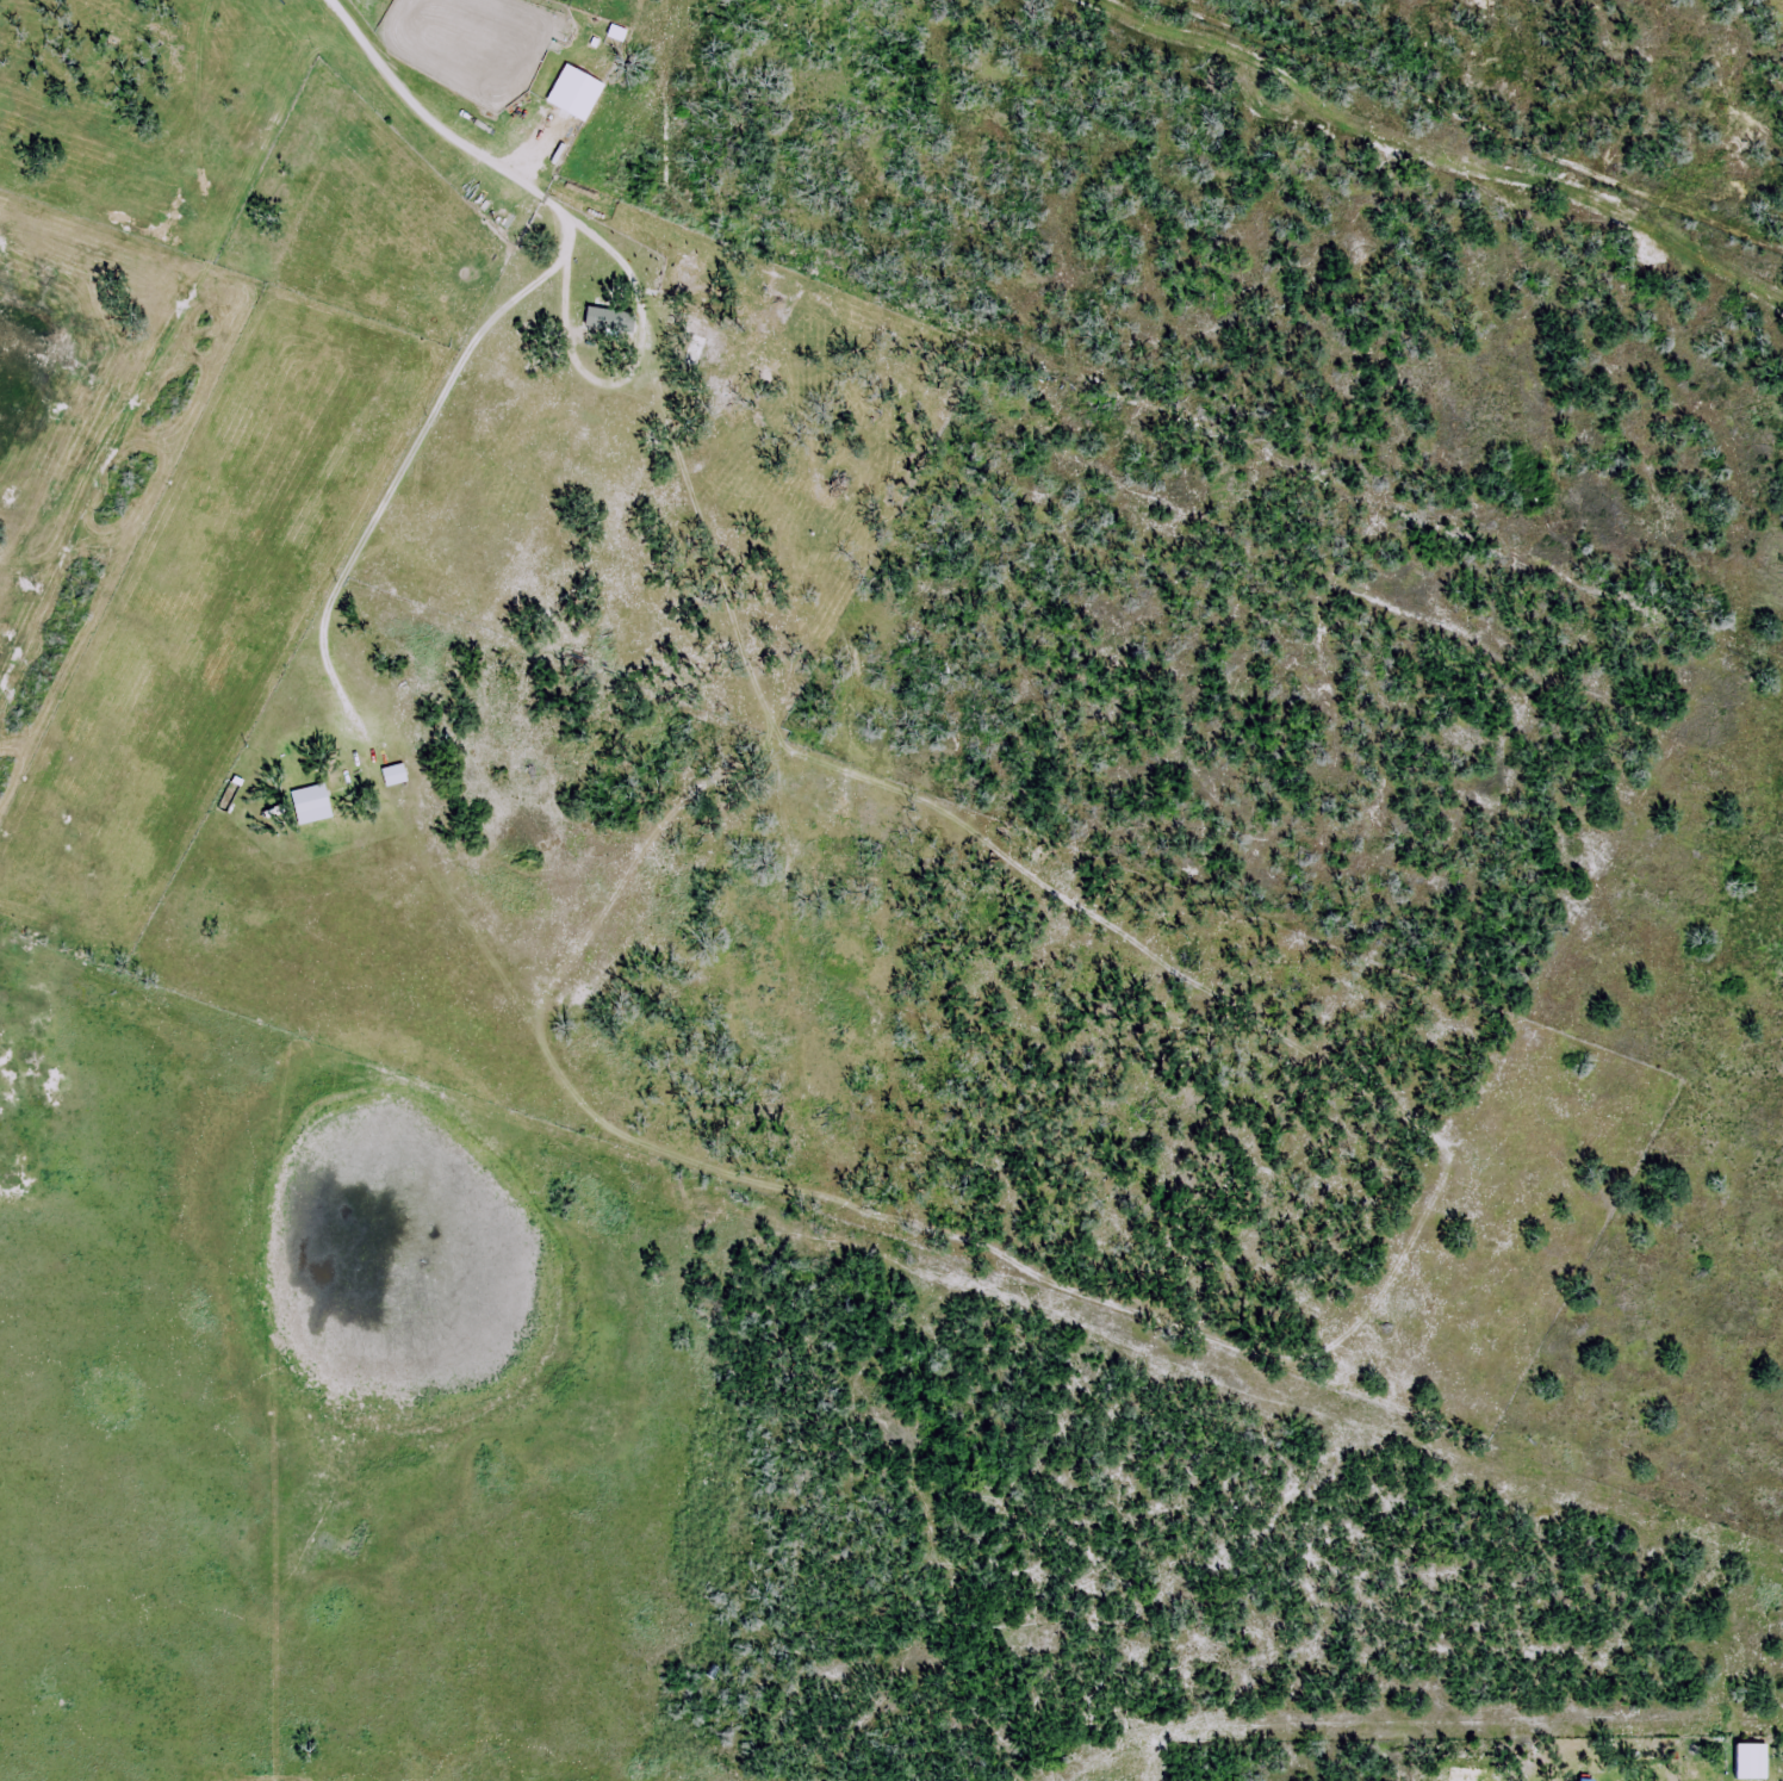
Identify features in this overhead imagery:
building: (578, 93)
road: (420, 110)
building: (666, 312)
building: (395, 775)
building: (313, 803)
building: (1577, 1776)

